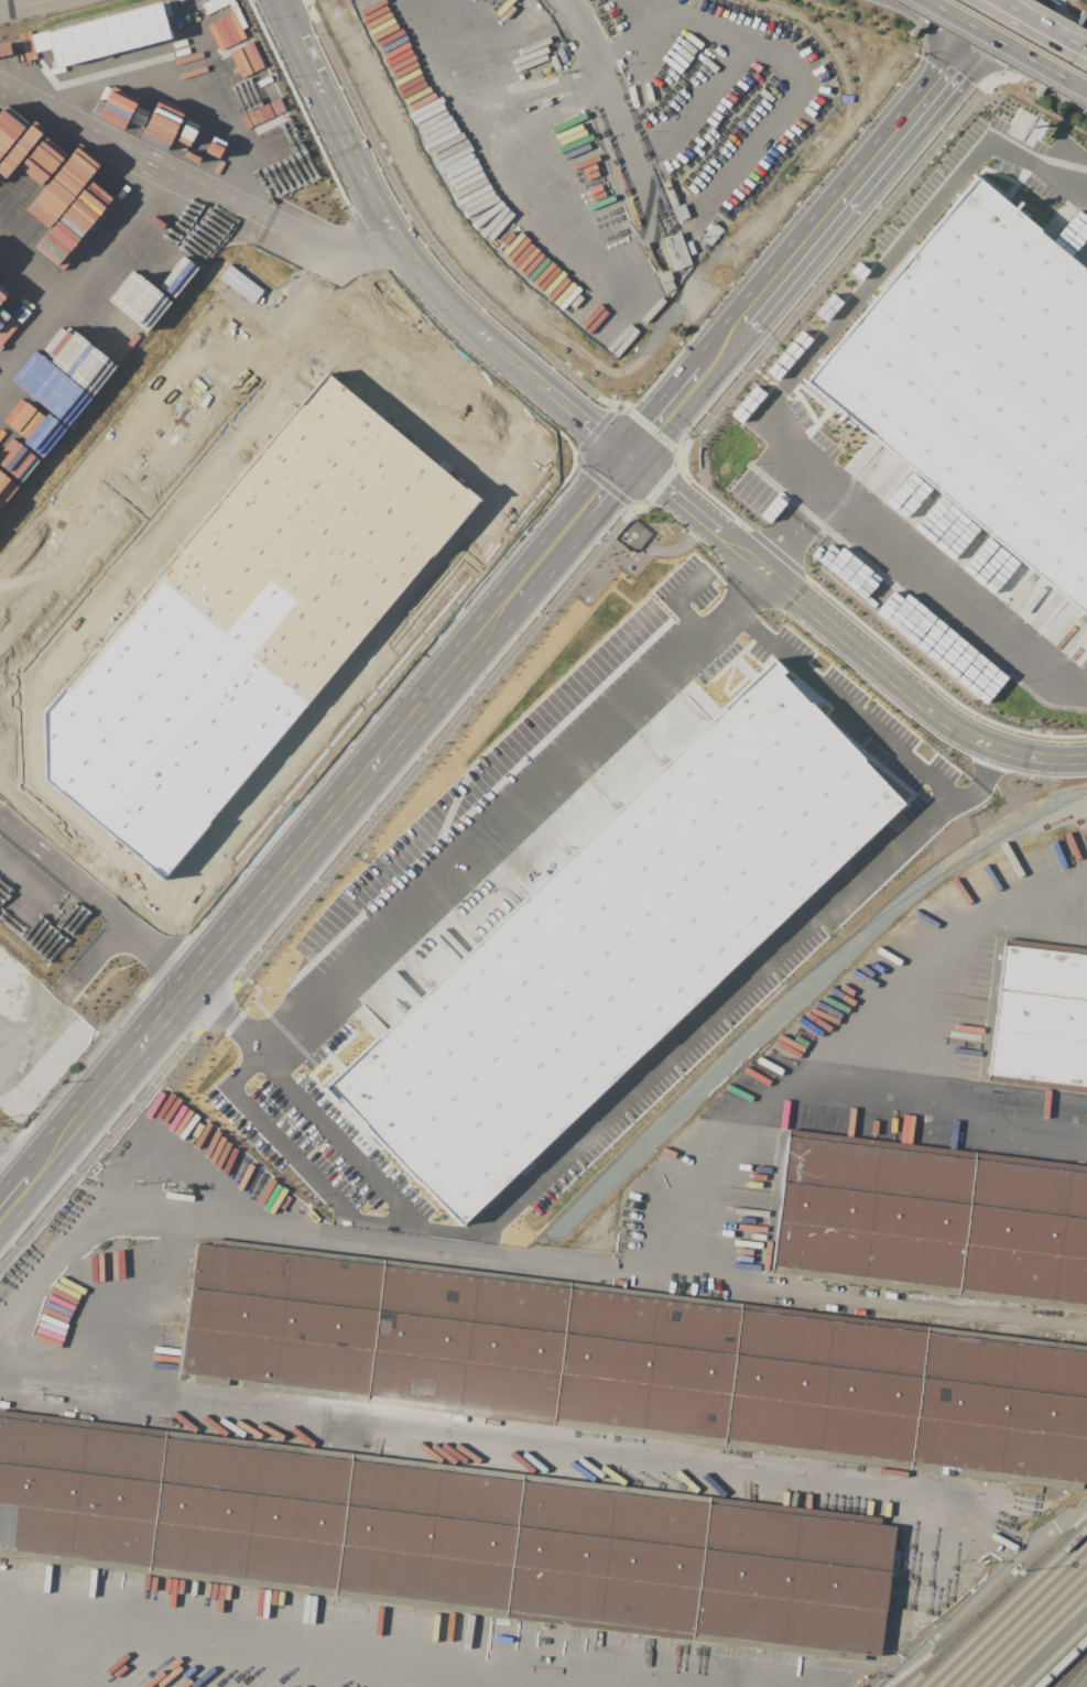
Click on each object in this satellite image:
road: (1009, 0)
road: (1010, 0)
traffic signals: (1010, 1)
road: (18, 3)
road: (1056, 4)
road: (307, 6)
road: (953, 14)
road: (999, 15)
road: (1040, 18)
road: (1042, 25)
road: (653, 28)
traffic signals: (989, 31)
building: (105, 35)
road: (1078, 40)
road: (1033, 43)
road: (1004, 45)
road: (1019, 47)
road: (939, 55)
road: (792, 65)
road: (580, 72)
road: (1068, 76)
road: (950, 77)
road: (643, 79)
road: (612, 85)
road: (715, 88)
road: (1048, 95)
parking lot: (713, 98)
road: (510, 160)
road: (167, 168)
road: (680, 181)
road: (863, 183)
road: (649, 192)
building: (1072, 233)
road: (427, 237)
road: (337, 244)
road: (411, 259)
road: (839, 260)
road: (344, 272)
road: (85, 274)
road: (776, 287)
building: (133, 296)
building: (436, 349)
building: (981, 381)
road: (682, 395)
road: (774, 399)
road: (596, 429)
road: (670, 449)
traffic signals: (626, 460)
road: (153, 470)
road: (498, 472)
road: (641, 472)
parking lot: (145, 481)
road: (604, 482)
road: (800, 529)
road: (563, 534)
building: (633, 538)
road: (742, 591)
building: (243, 622)
parking lot: (399, 629)
road: (471, 644)
road: (861, 647)
road: (336, 714)
road: (407, 720)
road: (866, 726)
road: (336, 807)
road: (317, 884)
road: (406, 919)
road: (231, 930)
road: (133, 936)
building: (615, 938)
road: (938, 943)
road: (2, 995)
building: (1042, 1020)
road: (705, 1022)
road: (819, 1088)
road: (83, 1109)
road: (26, 1143)
building: (933, 1221)
road: (74, 1240)
road: (633, 1274)
railway: (907, 1316)
building: (638, 1363)
road: (526, 1452)
building: (443, 1537)
road: (982, 1590)
railway: (996, 1599)
railway: (1003, 1606)
railway: (1011, 1613)
railway: (1019, 1621)
railway: (1026, 1628)
road: (64, 1633)
railway: (1033, 1635)
railway: (946, 1637)
railway: (1041, 1642)
road: (1046, 1648)
railway: (1053, 1654)
railway: (1061, 1661)
railway: (1068, 1669)
railway: (1073, 1670)

